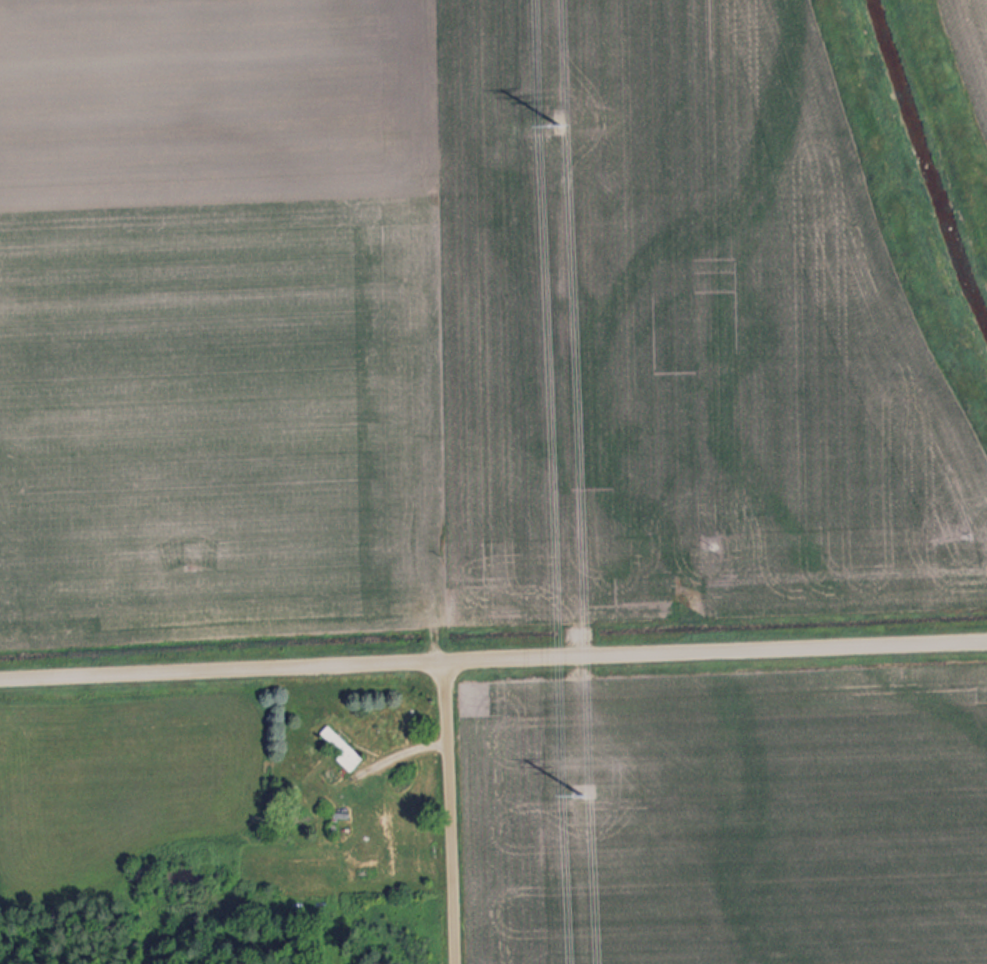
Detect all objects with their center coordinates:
power tower: (556, 117)
road: (493, 660)
building: (339, 747)
power tower: (581, 787)
road: (449, 813)

